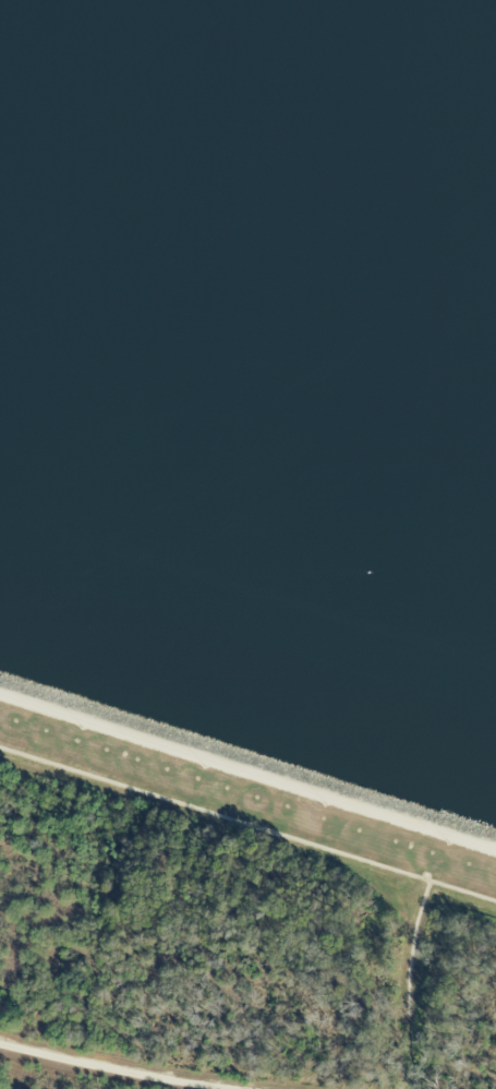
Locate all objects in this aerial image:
dam: (247, 773)
road: (247, 773)
road: (134, 1061)

